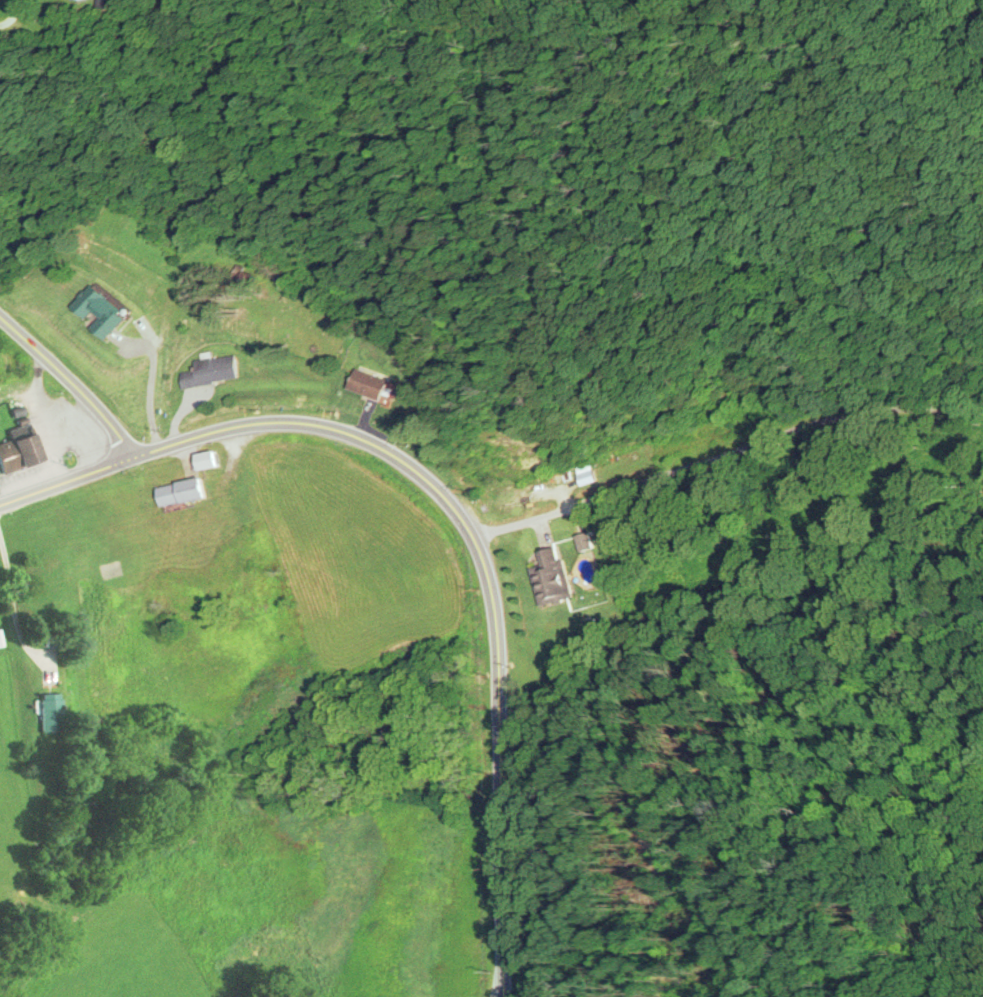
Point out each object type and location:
building: (99, 311)
building: (210, 371)
road: (70, 382)
building: (367, 385)
road: (724, 447)
building: (19, 449)
building: (181, 492)
road: (455, 510)
building: (584, 541)
building: (553, 577)
building: (49, 713)

